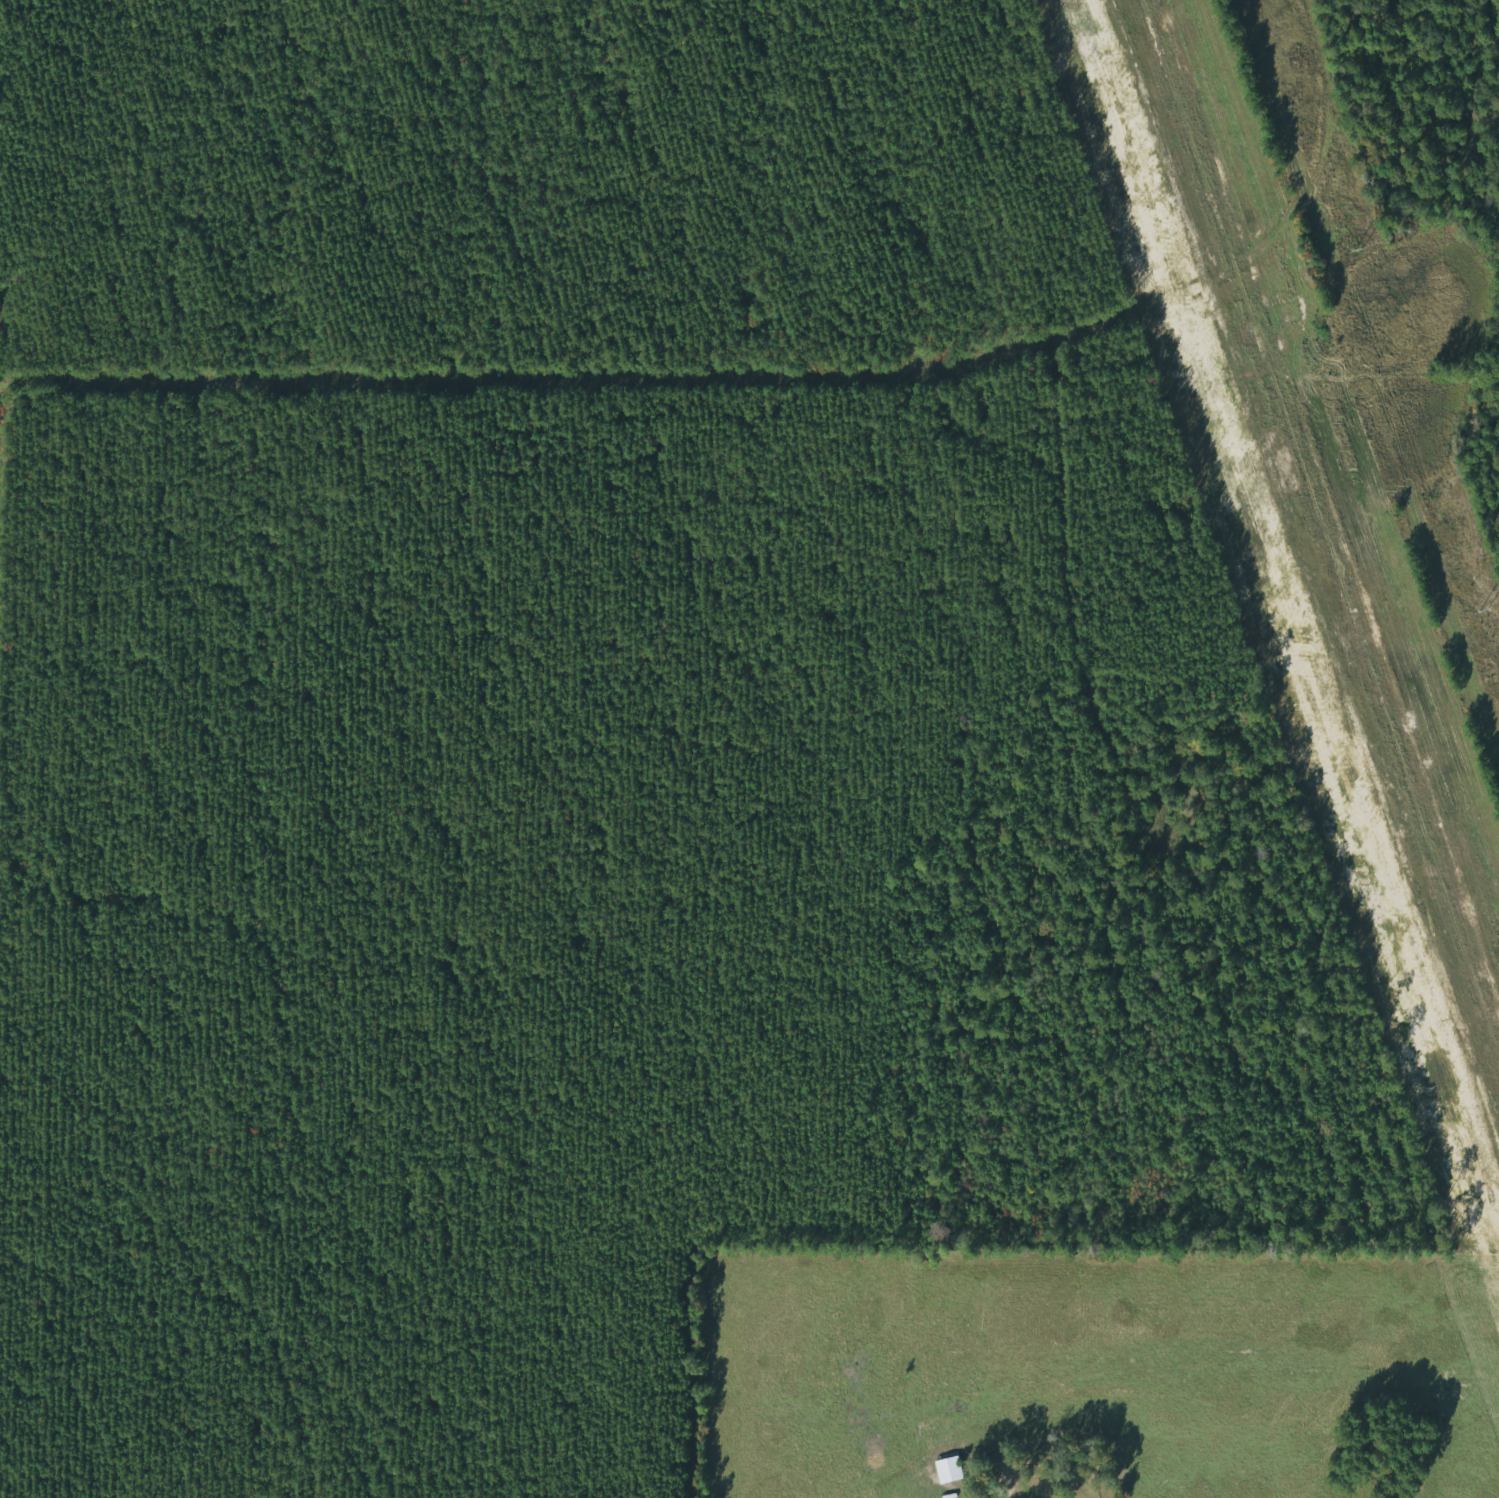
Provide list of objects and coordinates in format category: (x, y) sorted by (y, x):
power tower: (1358, 249)
road: (780, 369)
road: (1, 449)
power tower: (1484, 612)

